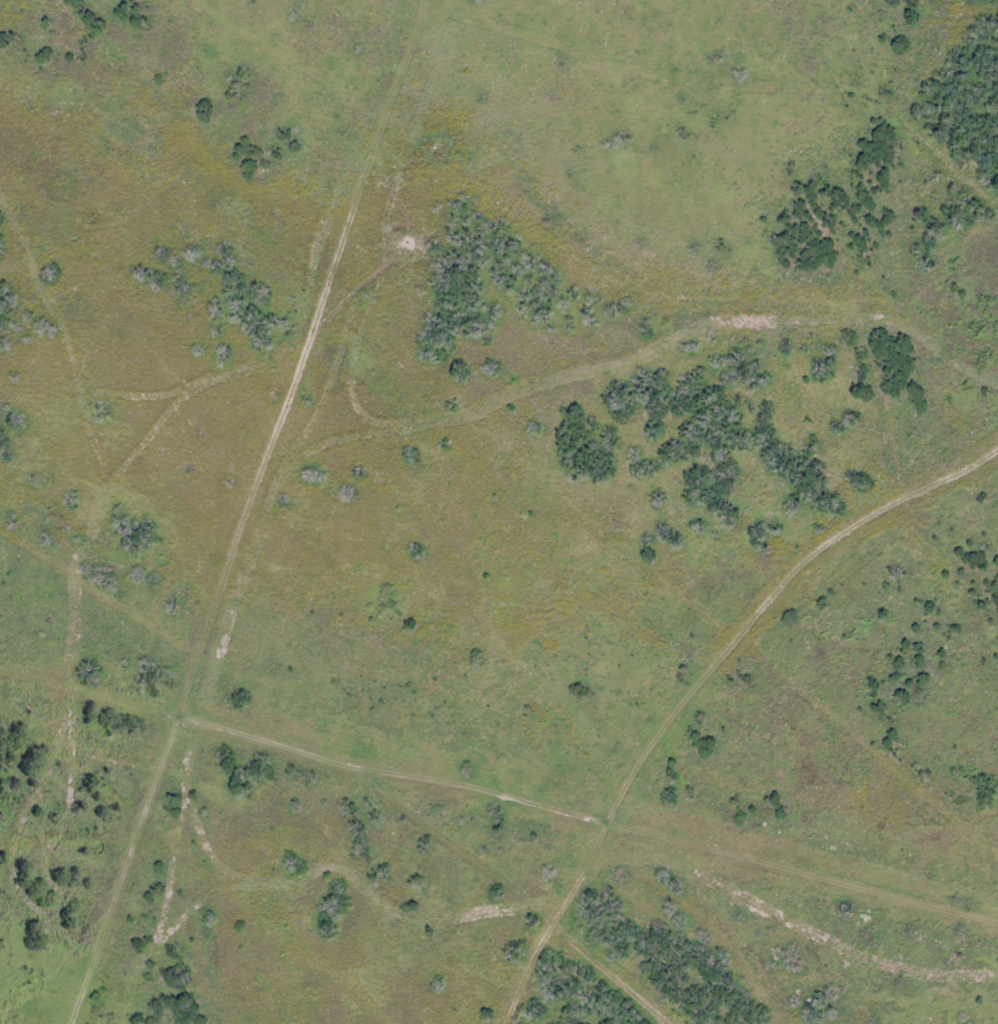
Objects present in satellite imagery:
road: (696, 677)

